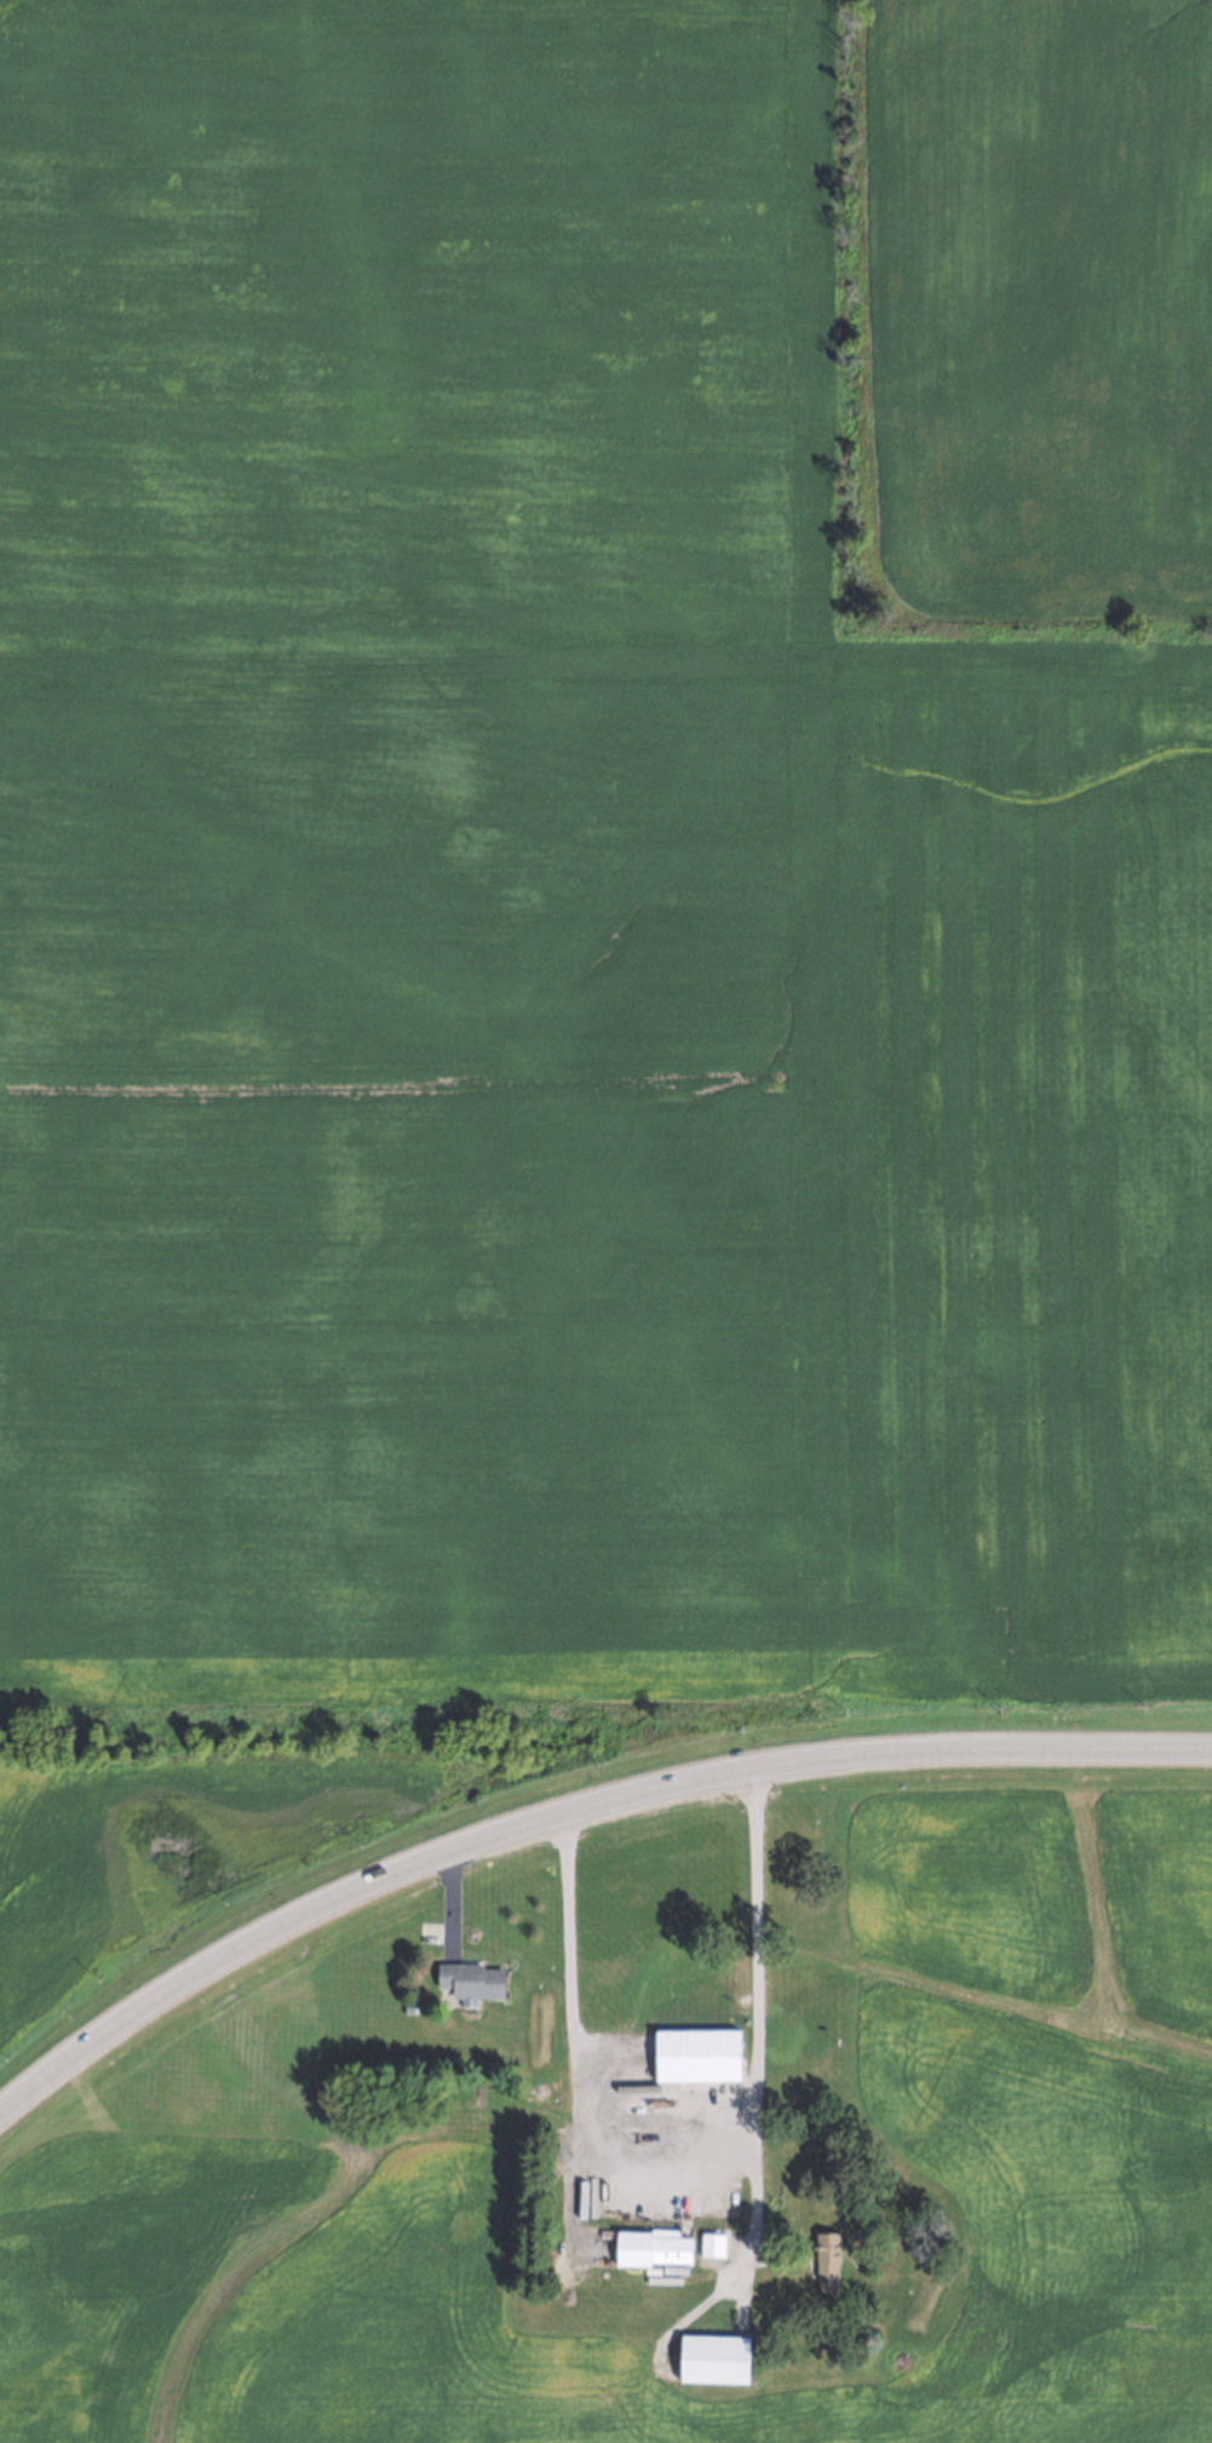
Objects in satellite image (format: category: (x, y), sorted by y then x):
road: (569, 1814)
building: (465, 1979)
road: (758, 2019)
building: (693, 2051)
road: (574, 2074)
building: (708, 2244)
building: (650, 2246)
building: (823, 2252)
building: (873, 2353)
building: (708, 2358)

